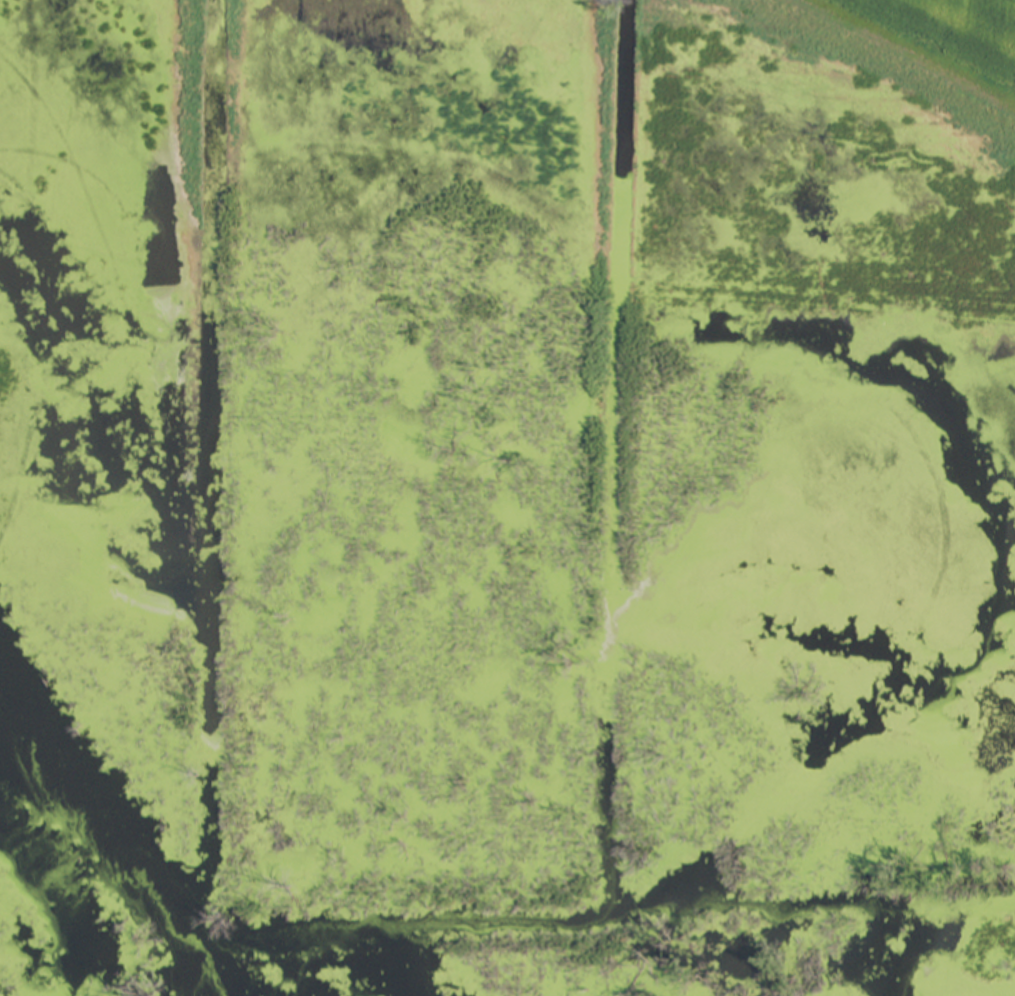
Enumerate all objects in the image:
river: (117, 832)

